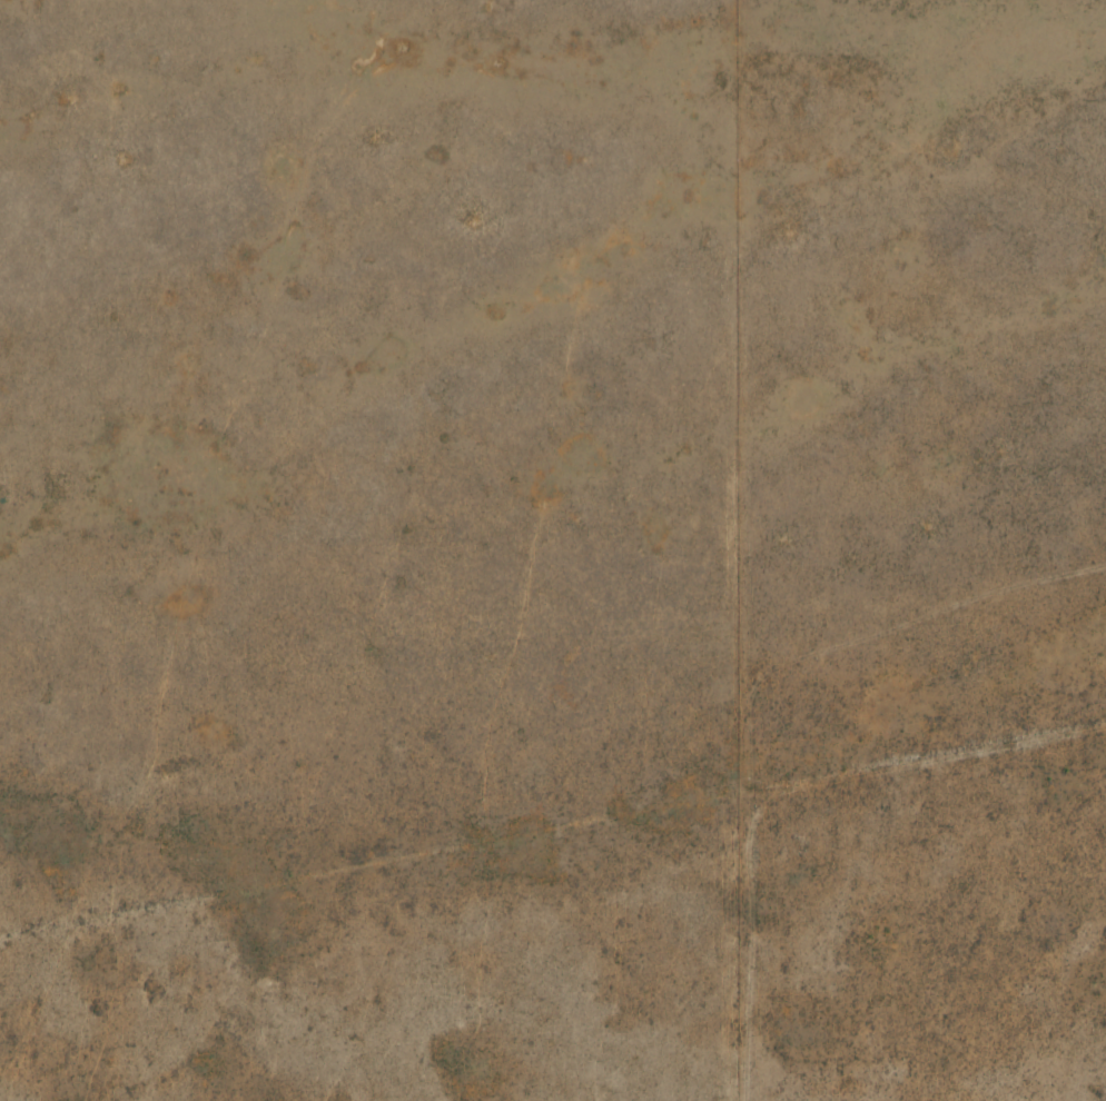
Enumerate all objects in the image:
road: (759, 914)

